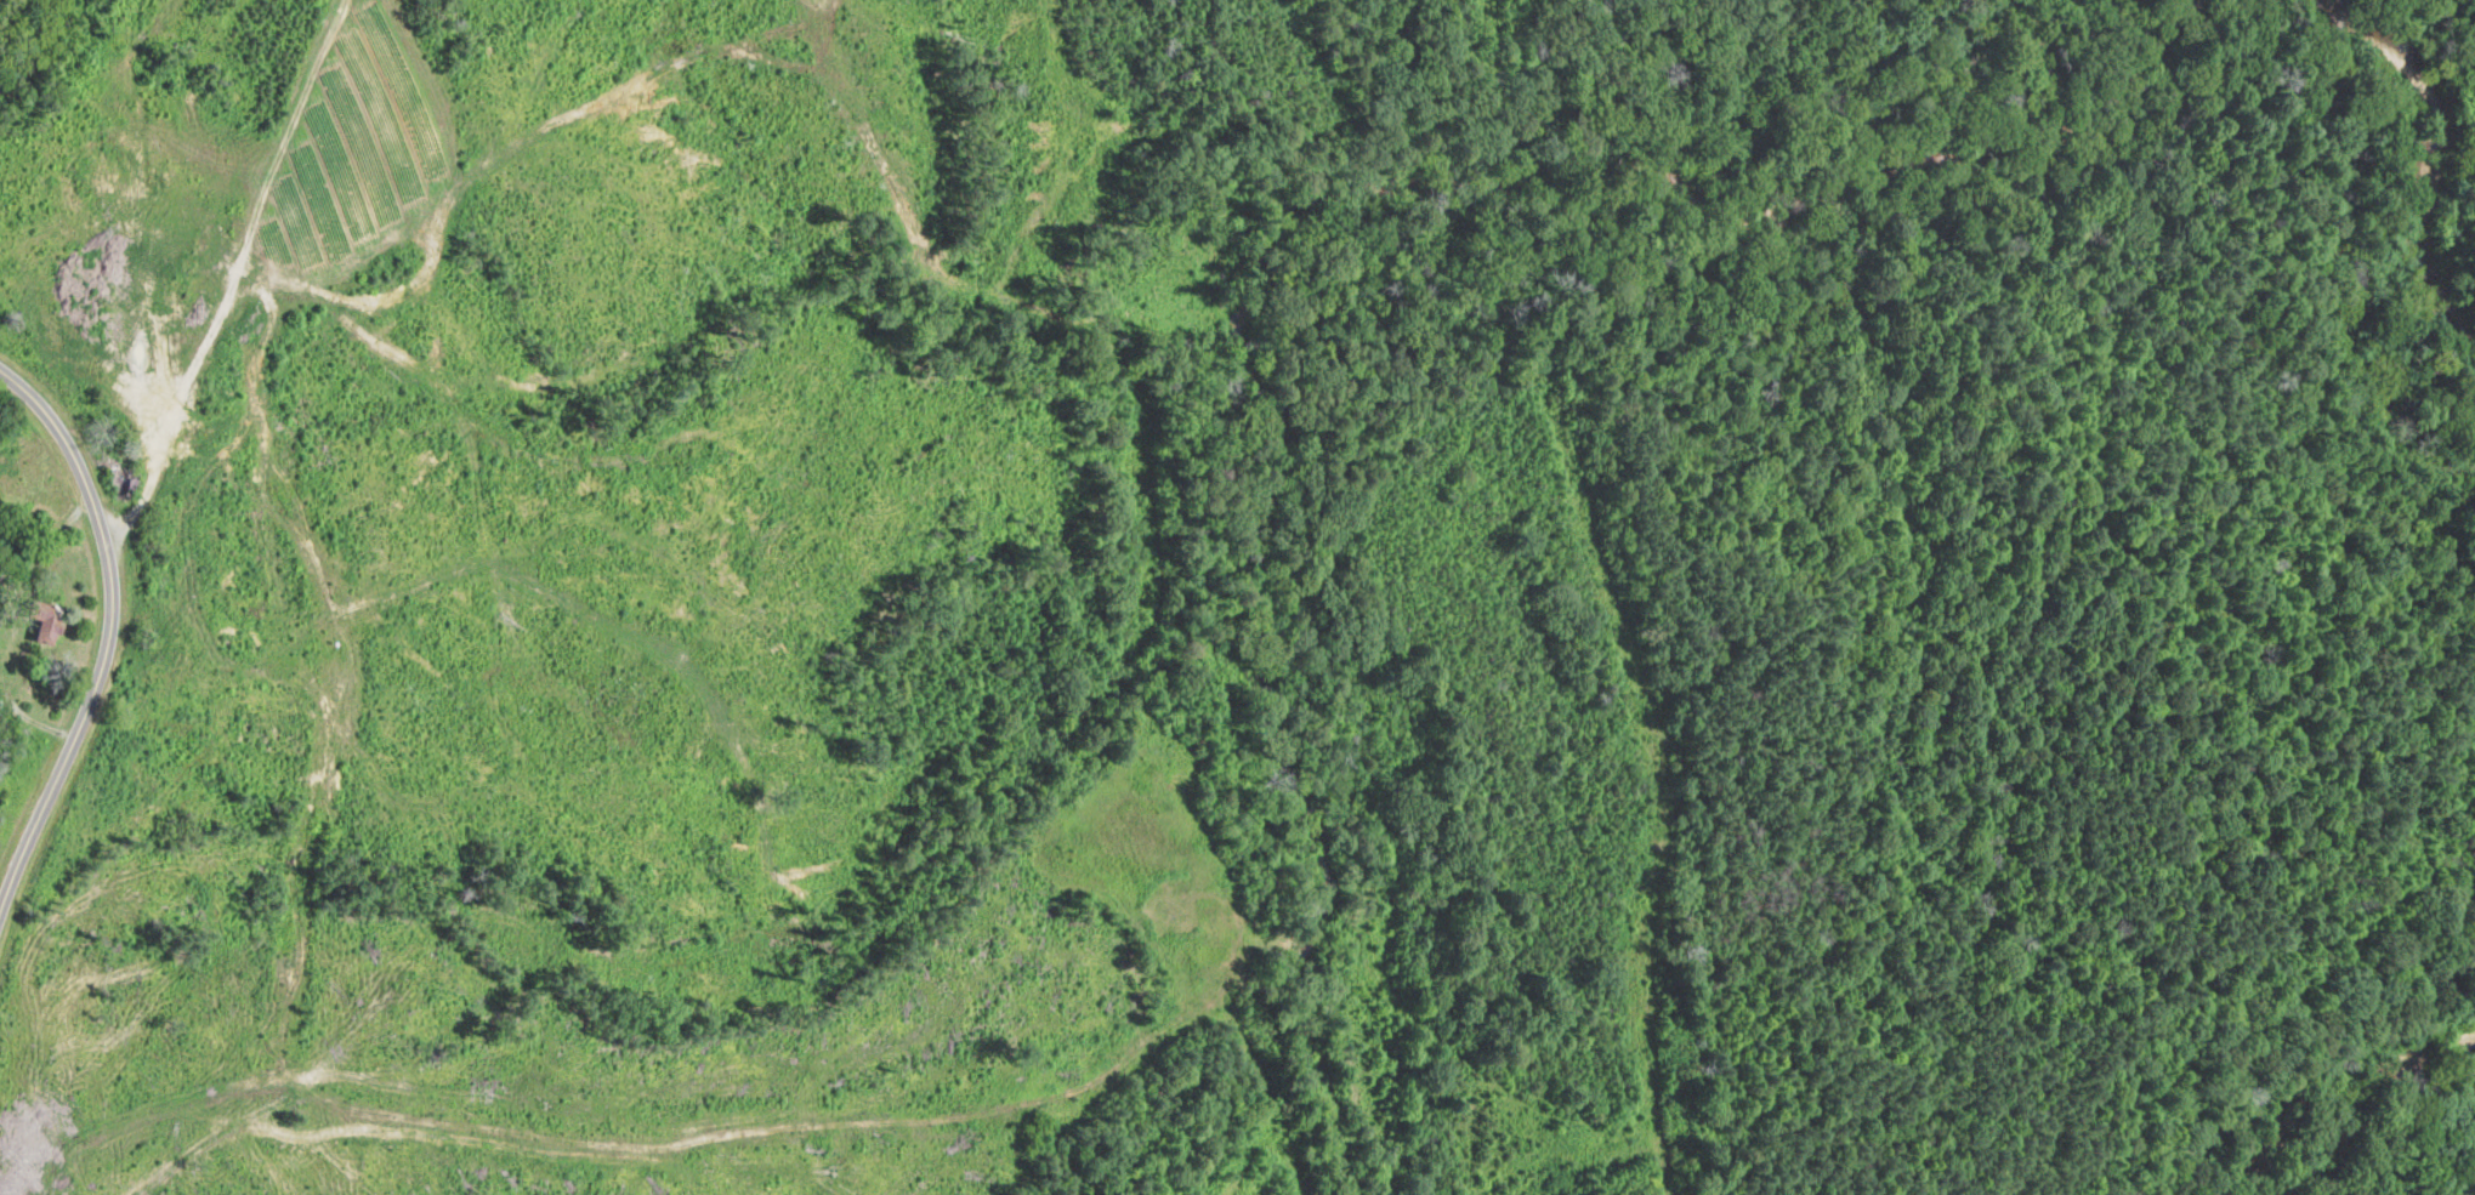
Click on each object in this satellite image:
road: (237, 278)
building: (35, 621)
road: (109, 633)

